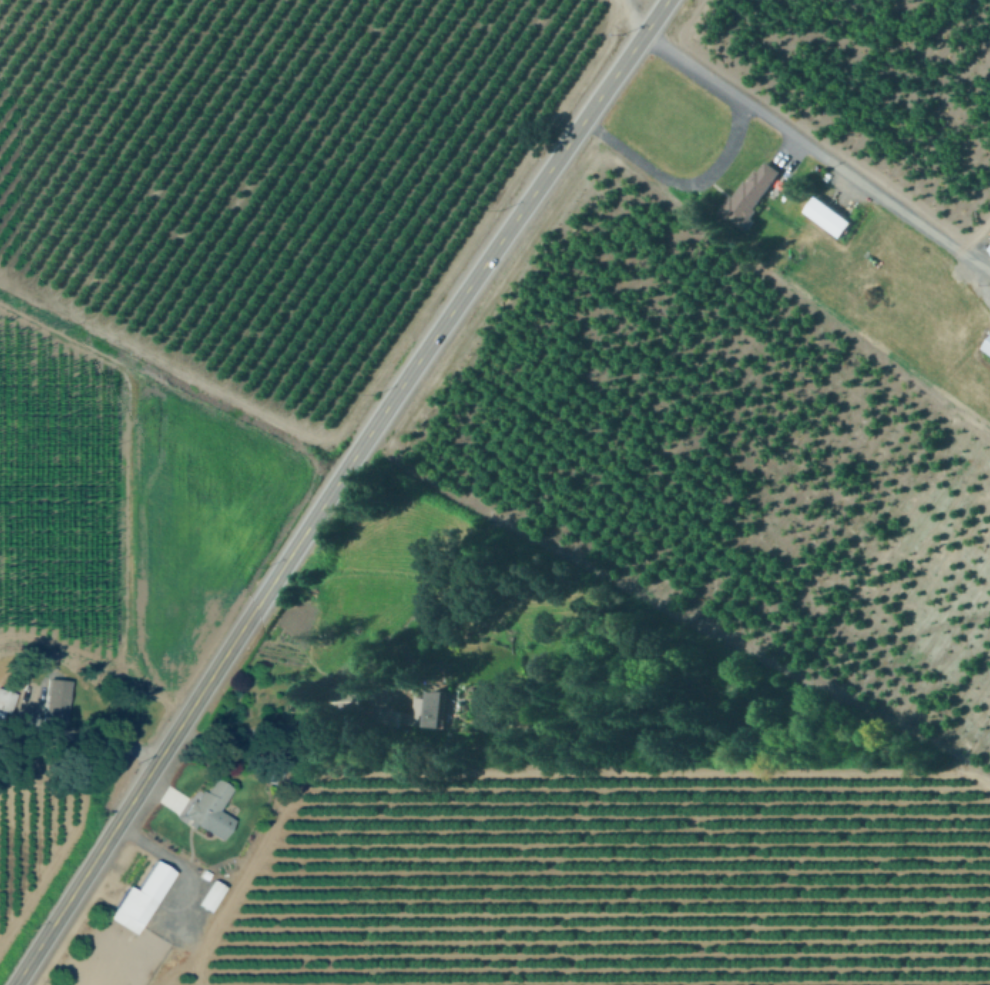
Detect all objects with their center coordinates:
road: (818, 153)
road: (680, 182)
building: (750, 195)
building: (827, 219)
building: (987, 348)
road: (332, 486)
building: (6, 701)
building: (351, 703)
building: (59, 710)
building: (427, 710)
road: (276, 727)
road: (98, 749)
building: (210, 809)
crop: (38, 831)
road: (178, 861)
building: (210, 897)
building: (140, 899)

